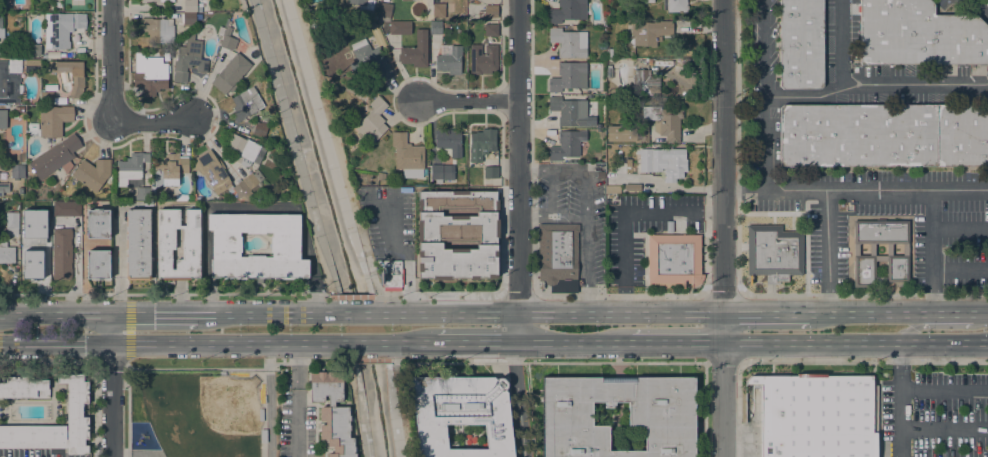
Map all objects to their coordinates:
building: (374, 0)
building: (407, 0)
building: (156, 1)
building: (647, 1)
building: (363, 4)
building: (190, 6)
building: (677, 6)
road: (978, 8)
building: (385, 10)
building: (438, 10)
building: (490, 11)
building: (568, 11)
building: (189, 19)
building: (1, 27)
building: (400, 28)
building: (436, 28)
building: (61, 29)
building: (158, 29)
building: (491, 30)
building: (221, 31)
building: (650, 32)
building: (919, 35)
building: (228, 39)
building: (567, 43)
building: (801, 44)
building: (34, 50)
building: (20, 51)
building: (415, 51)
road: (112, 56)
building: (188, 59)
building: (483, 59)
building: (368, 61)
building: (450, 61)
building: (14, 66)
building: (32, 66)
building: (987, 67)
building: (608, 72)
building: (149, 74)
building: (231, 74)
building: (71, 75)
building: (569, 77)
building: (645, 82)
building: (9, 85)
road: (872, 87)
road: (761, 93)
building: (628, 94)
road: (803, 95)
building: (46, 98)
road: (470, 100)
building: (245, 104)
building: (19, 109)
building: (569, 112)
building: (3, 119)
building: (52, 121)
building: (372, 121)
building: (662, 121)
road: (152, 122)
building: (261, 126)
building: (628, 133)
road: (334, 135)
building: (884, 135)
building: (448, 141)
building: (481, 144)
building: (567, 145)
building: (245, 148)
building: (407, 156)
road: (519, 156)
building: (20, 158)
building: (56, 158)
building: (664, 162)
building: (131, 167)
building: (169, 170)
building: (17, 171)
building: (212, 171)
building: (441, 172)
building: (491, 173)
building: (92, 174)
building: (379, 177)
building: (253, 181)
building: (632, 187)
building: (4, 188)
building: (613, 188)
road: (855, 189)
building: (20, 190)
building: (152, 190)
building: (242, 191)
building: (142, 194)
building: (66, 209)
road: (585, 211)
building: (43, 213)
road: (625, 214)
road: (551, 217)
building: (10, 224)
building: (97, 224)
building: (669, 227)
road: (722, 228)
road: (960, 228)
building: (457, 234)
building: (138, 244)
building: (167, 245)
building: (33, 247)
building: (226, 250)
road: (826, 250)
building: (856, 250)
road: (931, 250)
building: (558, 252)
building: (6, 253)
building: (773, 253)
building: (61, 254)
building: (674, 259)
road: (118, 260)
building: (97, 265)
road: (959, 268)
building: (392, 275)
road: (377, 291)
road: (168, 293)
road: (437, 294)
road: (864, 294)
road: (519, 295)
road: (620, 295)
road: (722, 295)
road: (354, 296)
road: (55, 313)
road: (153, 313)
road: (267, 313)
road: (359, 313)
road: (449, 313)
road: (620, 313)
road: (774, 313)
road: (869, 313)
road: (949, 313)
road: (518, 327)
road: (928, 327)
road: (364, 341)
road: (476, 341)
road: (559, 341)
road: (170, 342)
road: (411, 342)
road: (661, 342)
road: (811, 342)
road: (944, 342)
road: (394, 353)
road: (369, 361)
road: (48, 362)
road: (112, 362)
road: (863, 362)
road: (351, 363)
road: (545, 363)
road: (723, 363)
road: (297, 365)
road: (241, 369)
building: (219, 374)
road: (112, 384)
building: (25, 388)
road: (943, 391)
road: (517, 399)
road: (898, 399)
building: (75, 410)
road: (355, 411)
road: (401, 411)
road: (127, 413)
building: (333, 413)
building: (261, 414)
building: (461, 414)
parking lot: (934, 414)
building: (815, 415)
building: (661, 417)
road: (297, 422)
building: (264, 436)
road: (131, 455)

